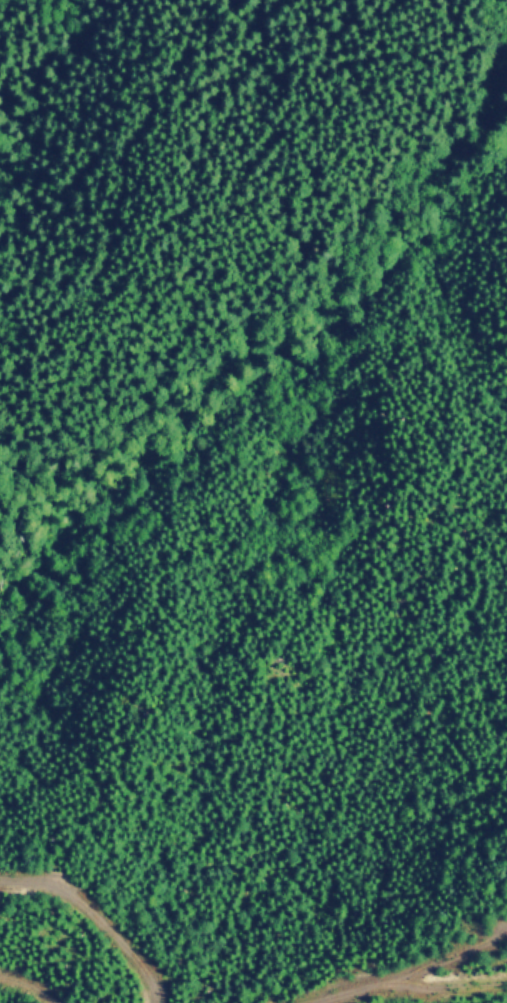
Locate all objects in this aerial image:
road: (97, 915)
road: (29, 987)

